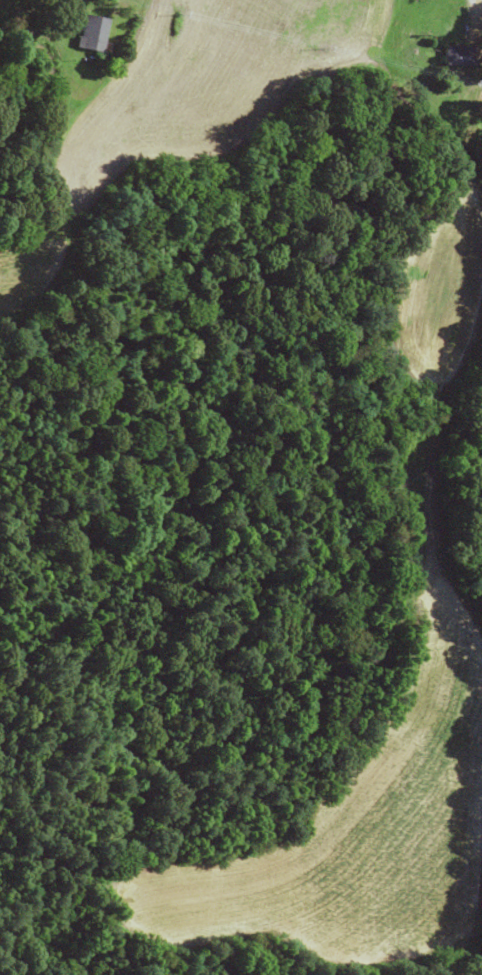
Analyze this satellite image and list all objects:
building: (89, 34)
building: (457, 55)
road: (476, 76)

